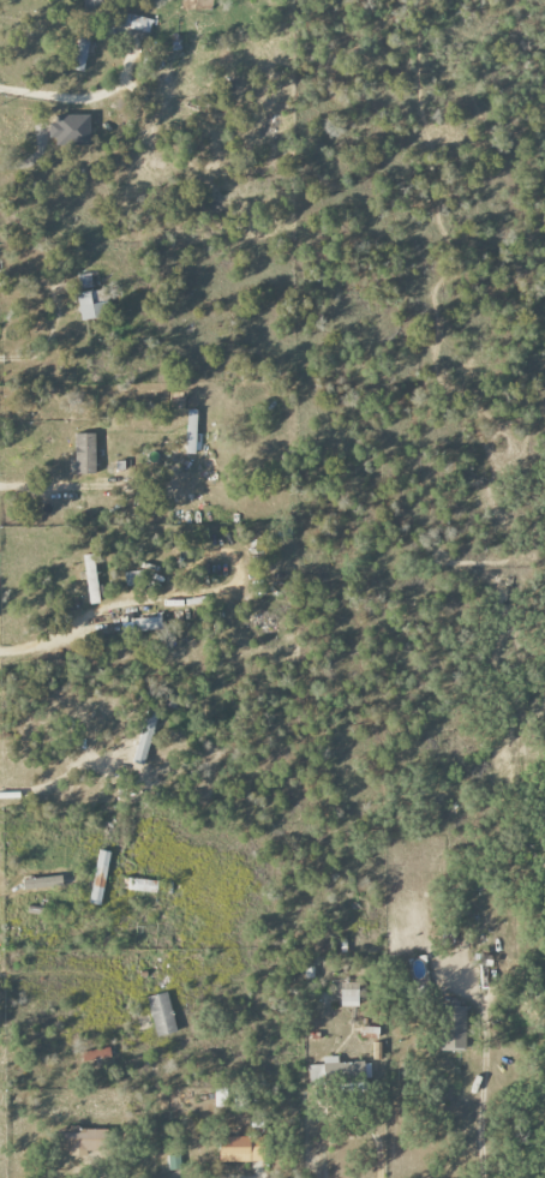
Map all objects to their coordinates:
building: (98, 5)
building: (136, 23)
building: (83, 49)
road: (77, 98)
building: (70, 130)
building: (90, 300)
road: (58, 311)
building: (191, 431)
building: (85, 454)
building: (91, 579)
building: (145, 737)
road: (62, 776)
building: (100, 878)
building: (42, 883)
building: (140, 885)
building: (349, 994)
building: (161, 1013)
building: (453, 1028)
building: (339, 1071)
road: (478, 1108)
building: (80, 1140)
building: (240, 1148)

